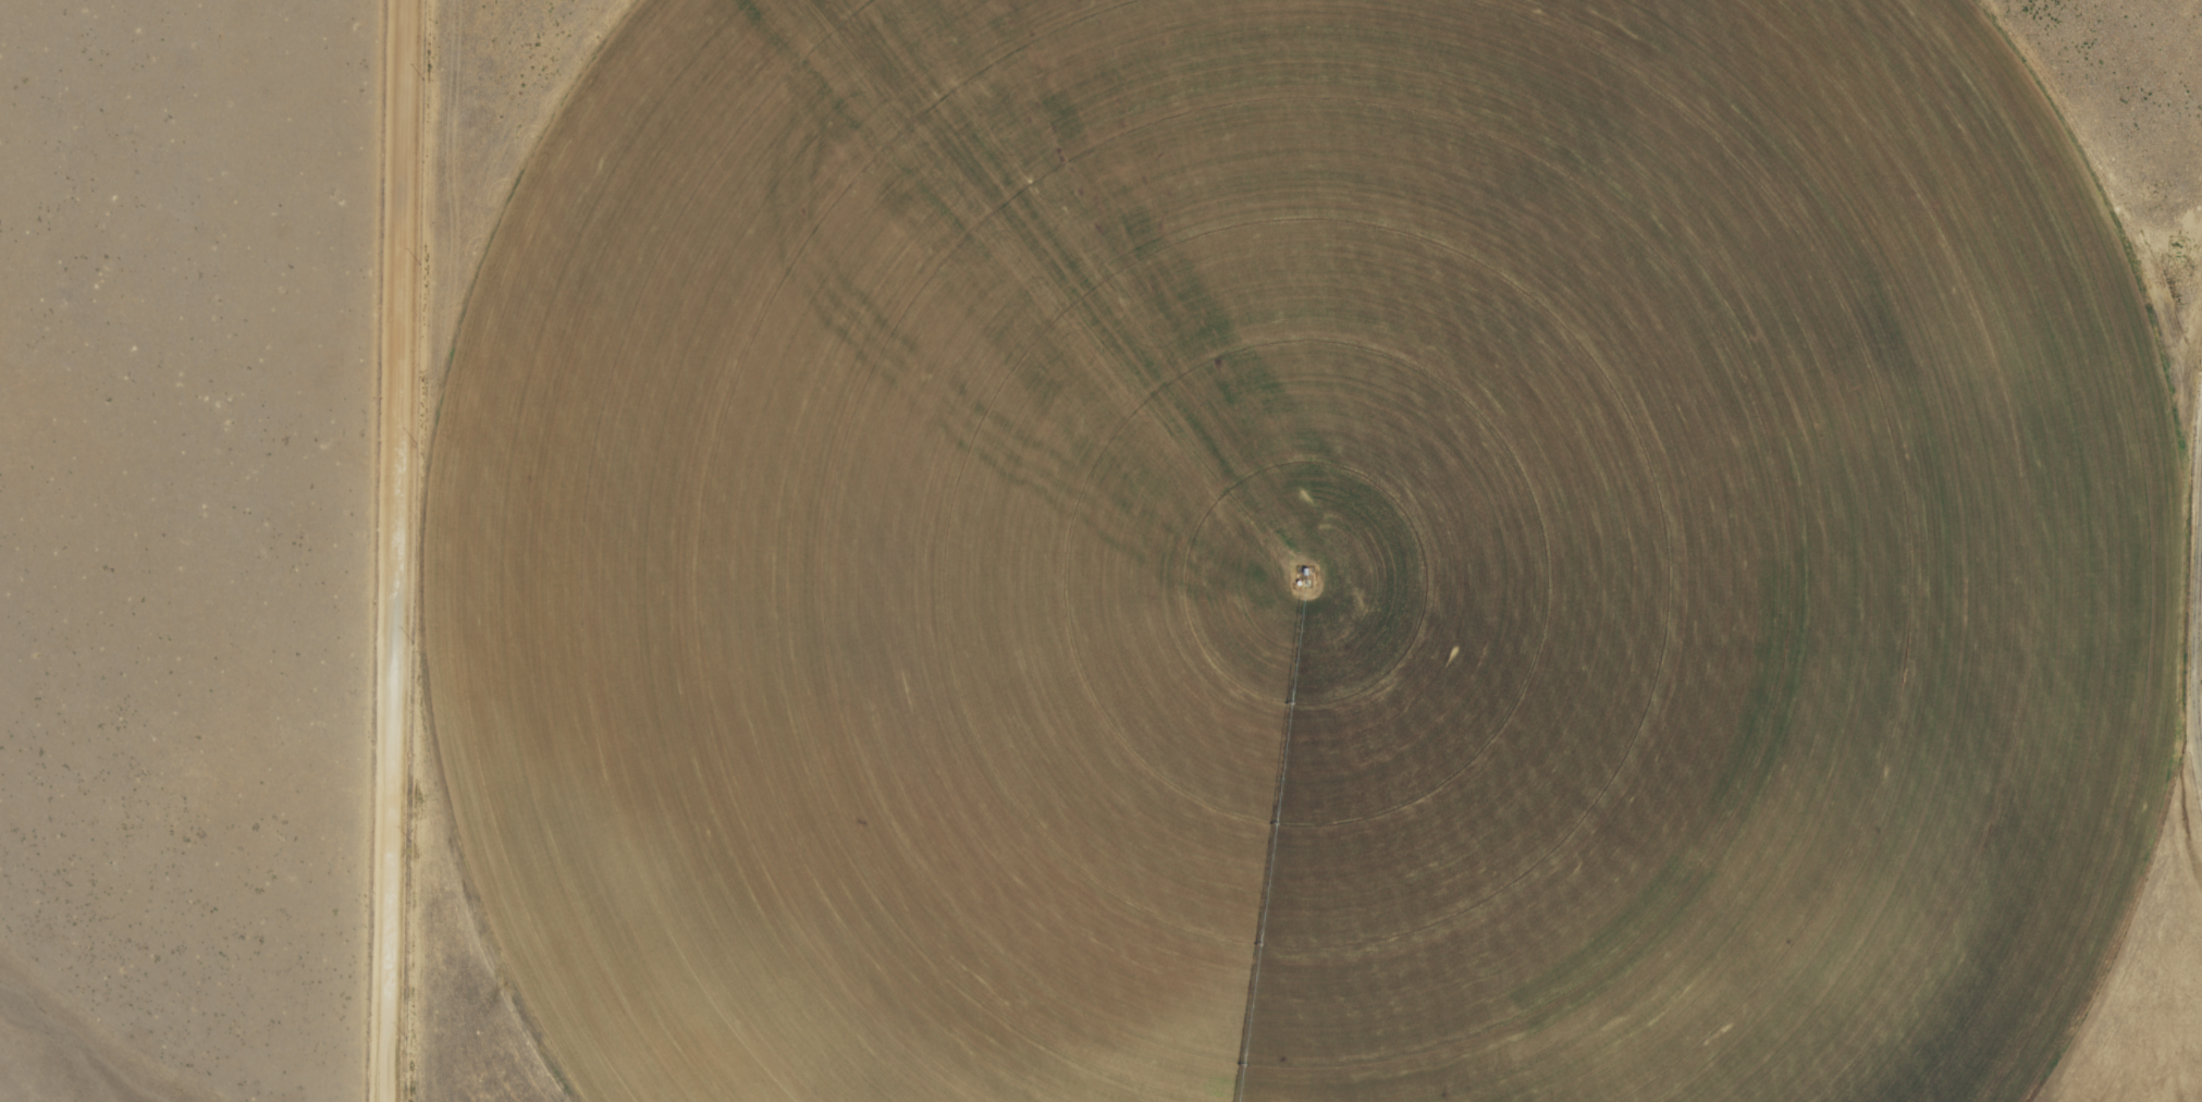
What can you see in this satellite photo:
road: (401, 551)

